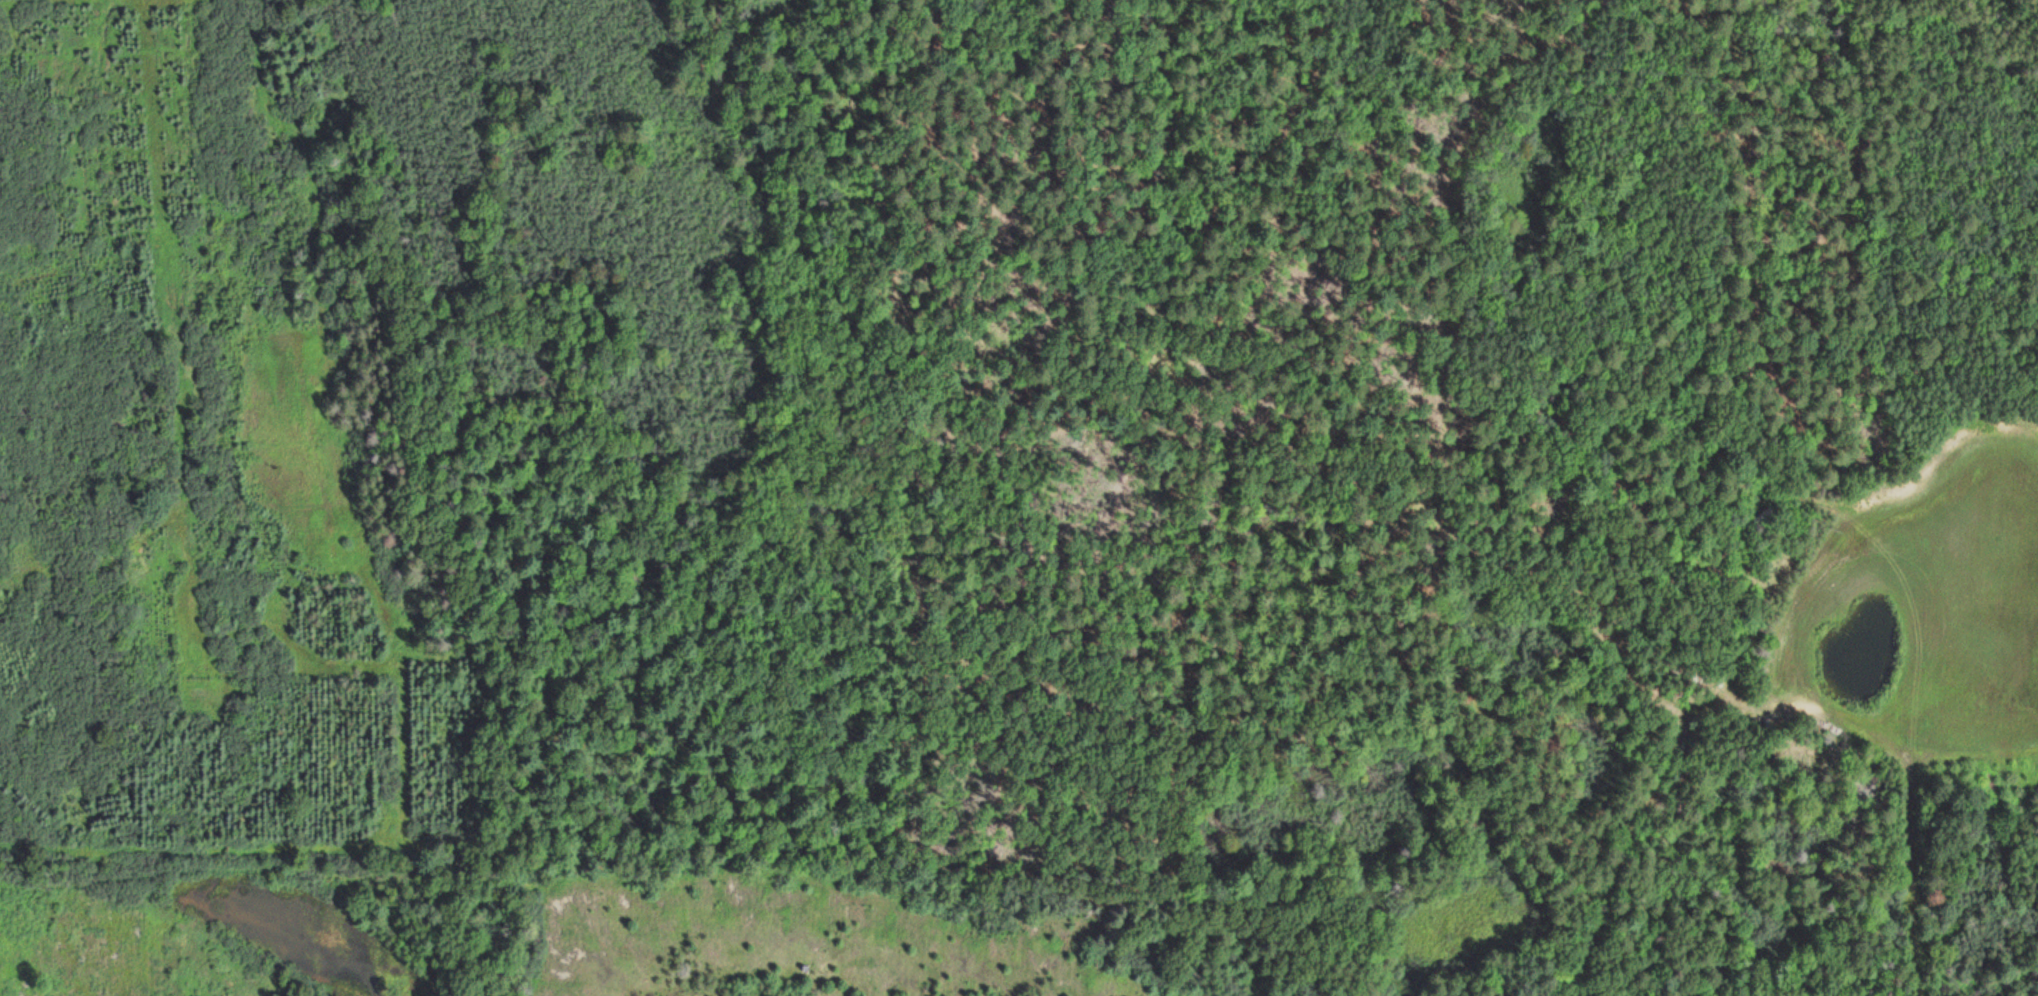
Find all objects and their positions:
road: (1915, 880)

